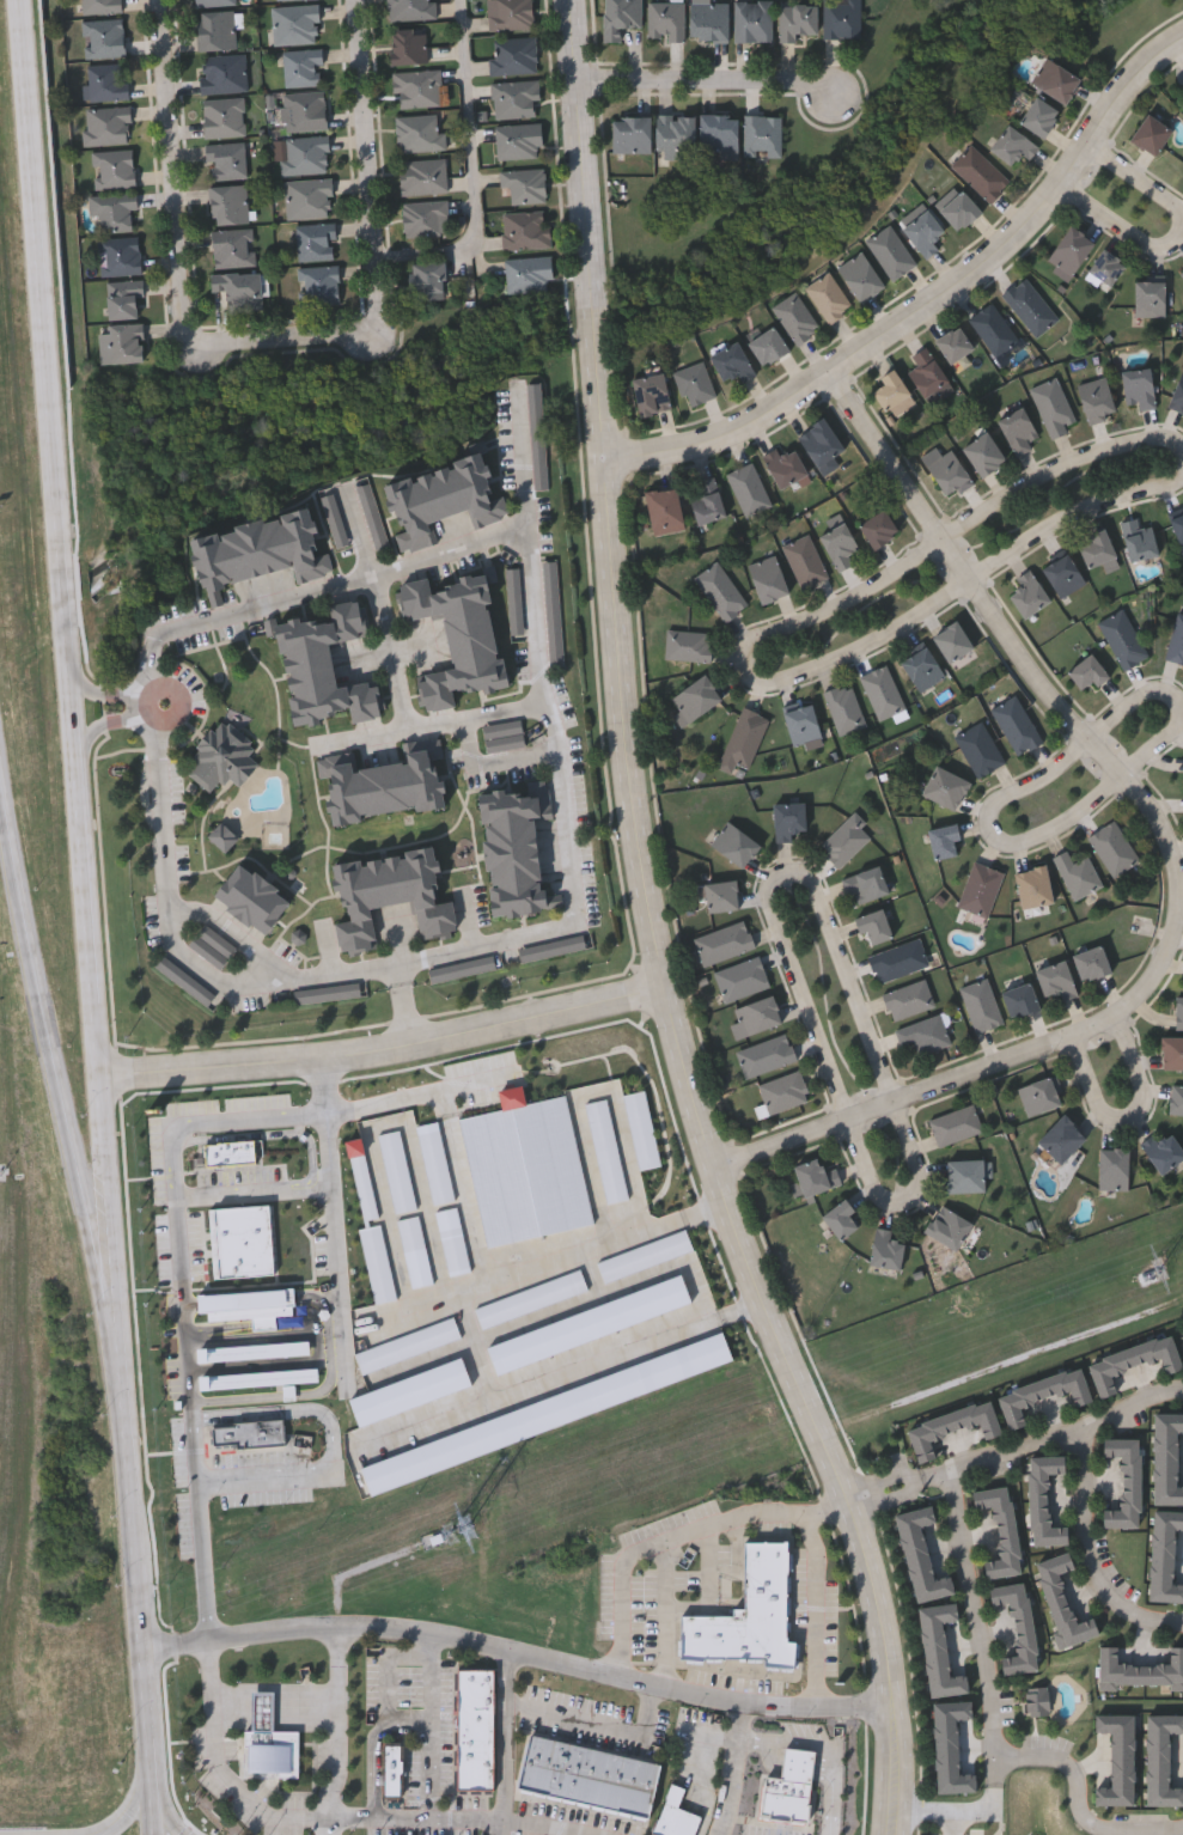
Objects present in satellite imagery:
building: (295, 0)
building: (214, 2)
building: (102, 6)
building: (413, 10)
building: (511, 14)
building: (622, 17)
building: (842, 18)
building: (709, 19)
building: (667, 20)
building: (754, 20)
building: (797, 20)
building: (297, 24)
building: (218, 30)
building: (105, 38)
building: (409, 45)
building: (514, 55)
building: (305, 68)
building: (226, 74)
building: (1055, 78)
building: (109, 83)
building: (419, 89)
road: (708, 95)
building: (517, 98)
building: (306, 111)
building: (1038, 114)
building: (225, 117)
building: (109, 126)
building: (719, 132)
building: (1151, 132)
building: (421, 134)
building: (632, 134)
building: (763, 135)
building: (676, 136)
building: (520, 141)
building: (1012, 142)
building: (307, 156)
building: (228, 160)
road: (368, 166)
building: (115, 169)
road: (474, 169)
building: (980, 171)
building: (425, 177)
building: (526, 185)
road: (1140, 189)
building: (310, 199)
building: (230, 205)
building: (958, 208)
building: (116, 212)
building: (426, 219)
building: (528, 230)
building: (923, 230)
road: (1123, 237)
building: (317, 242)
building: (234, 246)
building: (890, 250)
building: (1069, 250)
building: (121, 256)
building: (1106, 264)
road: (176, 266)
building: (1182, 268)
building: (1182, 273)
building: (529, 274)
building: (860, 274)
building: (428, 280)
building: (321, 286)
building: (239, 289)
building: (828, 294)
building: (1150, 297)
building: (124, 298)
building: (1030, 305)
building: (795, 315)
road: (937, 319)
building: (994, 327)
building: (953, 341)
building: (122, 343)
building: (768, 343)
road: (53, 347)
building: (732, 360)
building: (927, 371)
building: (695, 382)
building: (1139, 385)
building: (890, 388)
building: (1178, 390)
building: (650, 391)
building: (1096, 396)
building: (1053, 403)
building: (1018, 427)
building: (822, 443)
building: (983, 451)
building: (785, 464)
building: (946, 468)
building: (750, 487)
building: (707, 499)
building: (441, 501)
building: (664, 508)
building: (1178, 524)
building: (878, 525)
building: (1139, 537)
building: (840, 544)
building: (1097, 545)
building: (261, 551)
building: (805, 560)
building: (1063, 573)
building: (768, 577)
road: (349, 580)
building: (721, 590)
building: (1027, 592)
road: (1004, 627)
building: (1123, 636)
building: (457, 638)
road: (158, 639)
building: (952, 639)
building: (1176, 640)
building: (688, 644)
road: (389, 650)
road: (151, 660)
road: (538, 664)
building: (324, 666)
building: (922, 666)
road: (754, 670)
building: (1086, 670)
road: (179, 671)
road: (397, 678)
building: (883, 690)
road: (106, 694)
building: (694, 697)
building: (844, 707)
road: (81, 713)
building: (801, 723)
building: (1017, 723)
road: (116, 730)
road: (365, 734)
building: (744, 738)
building: (980, 746)
building: (225, 760)
road: (496, 761)
building: (385, 786)
building: (945, 786)
road: (164, 788)
building: (788, 818)
road: (1002, 824)
building: (844, 837)
building: (944, 837)
building: (226, 840)
building: (734, 842)
building: (1114, 847)
building: (516, 851)
road: (93, 866)
building: (1078, 872)
building: (865, 882)
building: (1033, 885)
building: (980, 888)
building: (721, 894)
building: (391, 898)
building: (252, 901)
building: (873, 925)
road: (172, 929)
road: (236, 933)
road: (658, 934)
building: (724, 940)
building: (217, 947)
building: (898, 959)
road: (409, 961)
building: (1091, 962)
road: (401, 973)
building: (742, 977)
building: (1056, 979)
building: (908, 998)
building: (1019, 998)
building: (981, 1002)
building: (1179, 1011)
road: (407, 1014)
building: (757, 1014)
building: (923, 1032)
road: (876, 1042)
road: (824, 1048)
road: (390, 1049)
building: (1172, 1051)
building: (766, 1054)
road: (1136, 1059)
road: (972, 1083)
road: (325, 1087)
building: (783, 1090)
building: (1039, 1093)
road: (422, 1096)
building: (1176, 1098)
road: (1104, 1109)
road: (219, 1123)
building: (956, 1123)
building: (1061, 1138)
road: (69, 1147)
building: (1163, 1150)
building: (1112, 1168)
building: (965, 1175)
building: (815, 1176)
road: (256, 1193)
building: (840, 1218)
building: (947, 1226)
building: (885, 1249)
road: (337, 1250)
road: (116, 1252)
power tower: (1158, 1272)
road: (522, 1273)
building: (252, 1306)
road: (188, 1342)
building: (254, 1351)
building: (1130, 1362)
building: (258, 1377)
road: (568, 1377)
building: (1041, 1394)
building: (951, 1427)
building: (251, 1432)
road: (1053, 1434)
road: (334, 1441)
building: (1124, 1481)
road: (888, 1494)
building: (1042, 1499)
building: (999, 1530)
power tower: (452, 1537)
road: (684, 1541)
road: (1086, 1553)
road: (134, 1556)
road: (205, 1563)
building: (1062, 1602)
road: (817, 1610)
building: (749, 1613)
road: (666, 1618)
road: (983, 1626)
building: (1016, 1627)
road: (519, 1652)
building: (1140, 1670)
building: (1036, 1700)
road: (145, 1708)
road: (592, 1720)
building: (475, 1726)
road: (702, 1729)
road: (343, 1733)
building: (268, 1742)
road: (507, 1743)
road: (373, 1746)
road: (830, 1748)
road: (1178, 1760)
road: (1181, 1762)
building: (392, 1767)
road: (734, 1769)
road: (220, 1772)
road: (431, 1776)
building: (587, 1779)
road: (128, 1796)
road: (711, 1799)
road: (1080, 1803)
building: (676, 1813)
road: (958, 1813)
road: (468, 1819)
road: (151, 1822)
road: (159, 1822)
road: (550, 1824)
road: (955, 1824)

